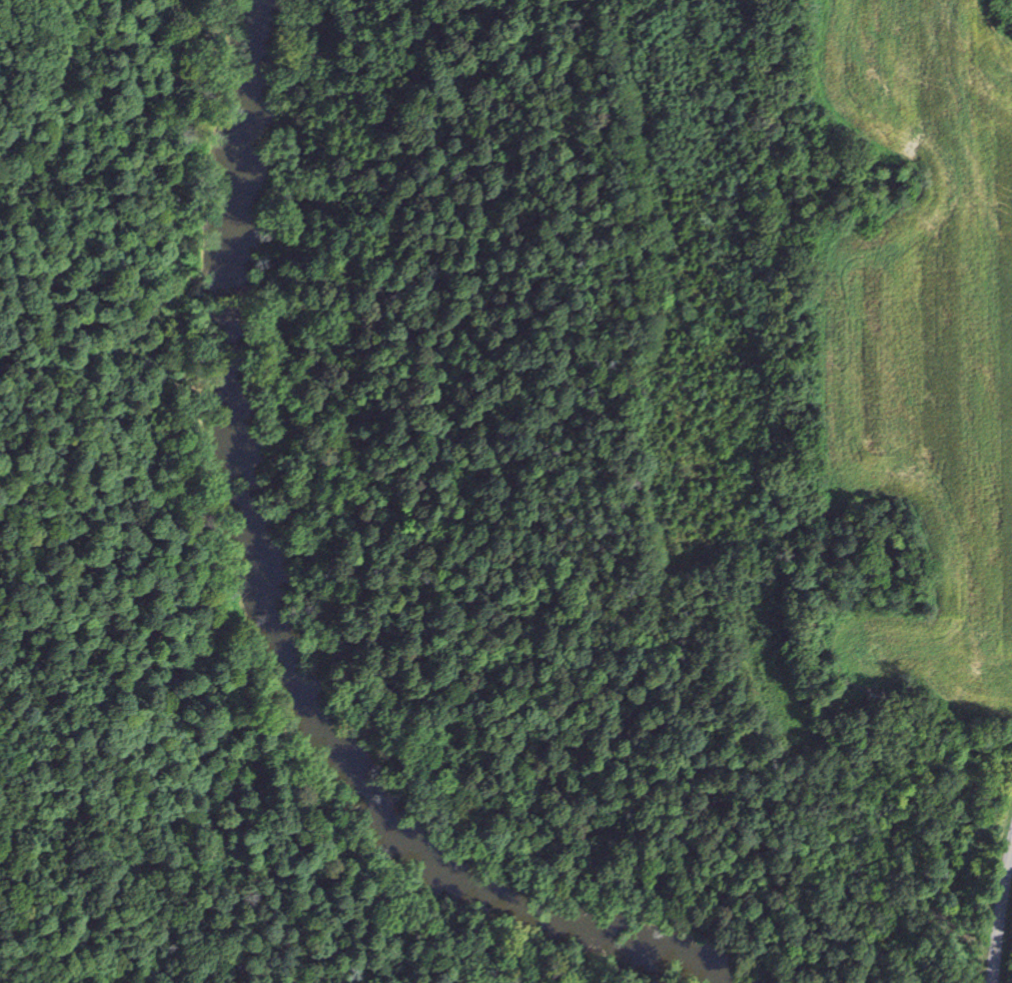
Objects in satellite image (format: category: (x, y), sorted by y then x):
road: (1002, 923)

